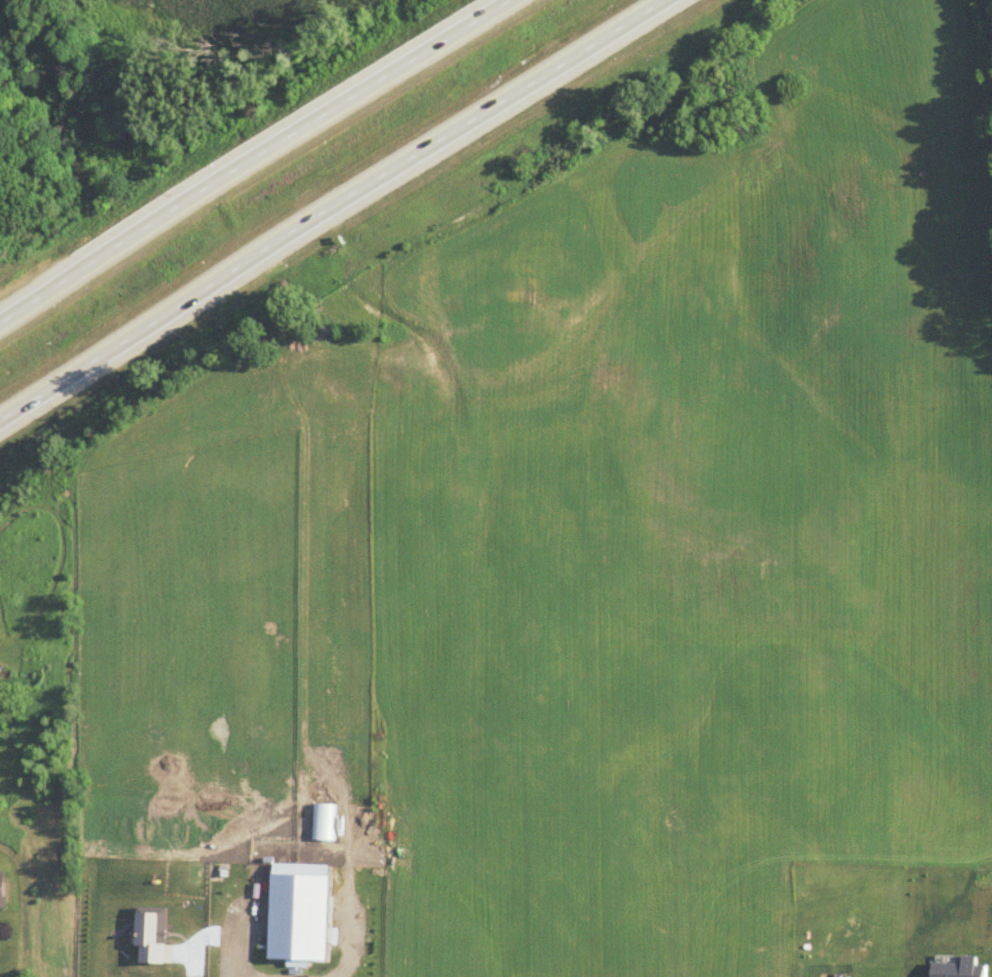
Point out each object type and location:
road: (257, 162)
road: (337, 208)
building: (2, 892)
road: (236, 941)

